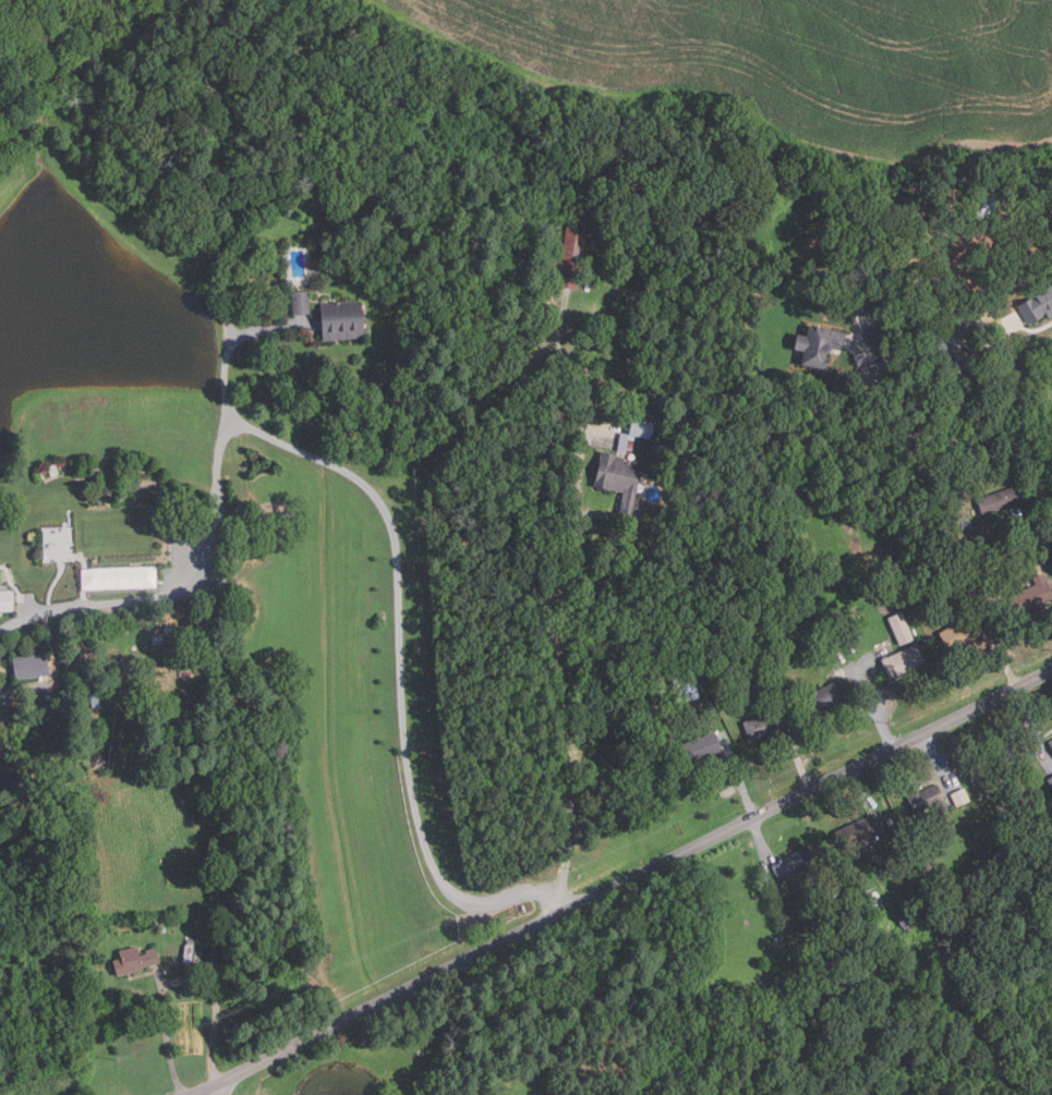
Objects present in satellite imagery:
building: (566, 259)
building: (863, 273)
building: (862, 302)
building: (301, 303)
building: (1039, 305)
building: (342, 320)
building: (820, 345)
building: (938, 345)
building: (895, 363)
road: (1021, 378)
building: (634, 435)
road: (965, 440)
building: (969, 472)
building: (619, 479)
building: (1001, 500)
building: (833, 571)
building: (946, 573)
building: (0, 576)
building: (128, 577)
road: (176, 592)
building: (1032, 595)
building: (7, 600)
road: (399, 609)
building: (749, 624)
building: (902, 629)
building: (964, 629)
building: (176, 638)
road: (1000, 648)
building: (670, 658)
building: (904, 661)
building: (31, 667)
road: (563, 671)
building: (682, 689)
building: (833, 693)
building: (47, 701)
building: (95, 701)
road: (880, 711)
building: (767, 722)
road: (1032, 728)
building: (1051, 741)
building: (700, 747)
building: (1006, 757)
road: (939, 758)
road: (798, 762)
building: (954, 765)
road: (739, 777)
building: (1050, 780)
road: (858, 788)
building: (960, 795)
building: (926, 798)
building: (859, 830)
building: (899, 831)
road: (762, 845)
building: (905, 859)
building: (928, 860)
building: (796, 863)
road: (624, 880)
building: (837, 892)
building: (907, 917)
building: (161, 924)
building: (779, 938)
building: (809, 947)
building: (211, 949)
building: (189, 952)
building: (135, 959)
road: (179, 981)
road: (214, 1092)

